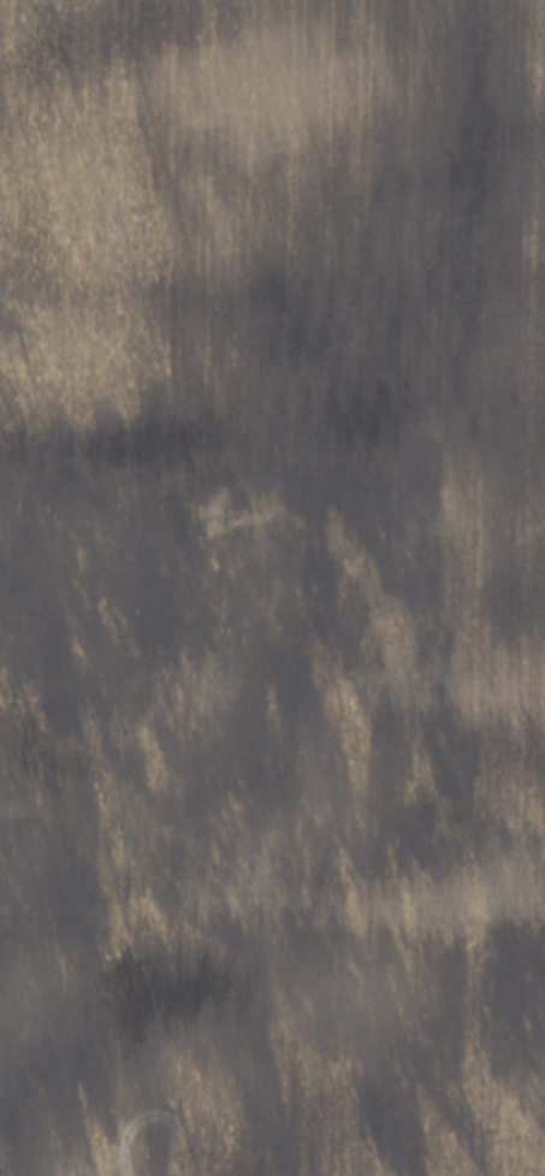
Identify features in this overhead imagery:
crop: (272, 587)

